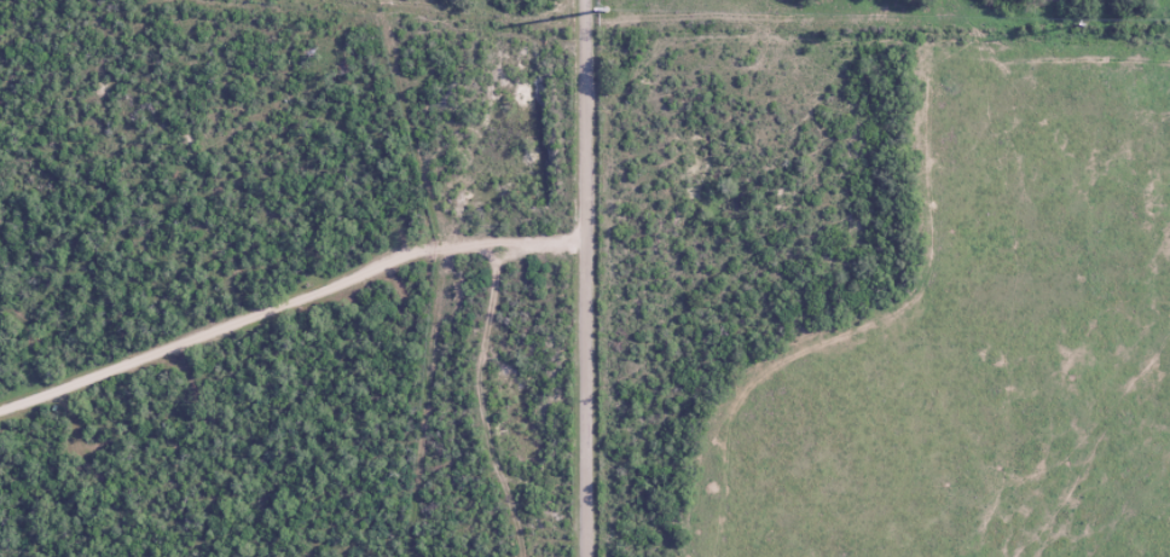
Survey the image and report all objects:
power tower: (604, 10)
road: (360, 24)
power tower: (1083, 24)
road: (586, 278)
road: (288, 302)

